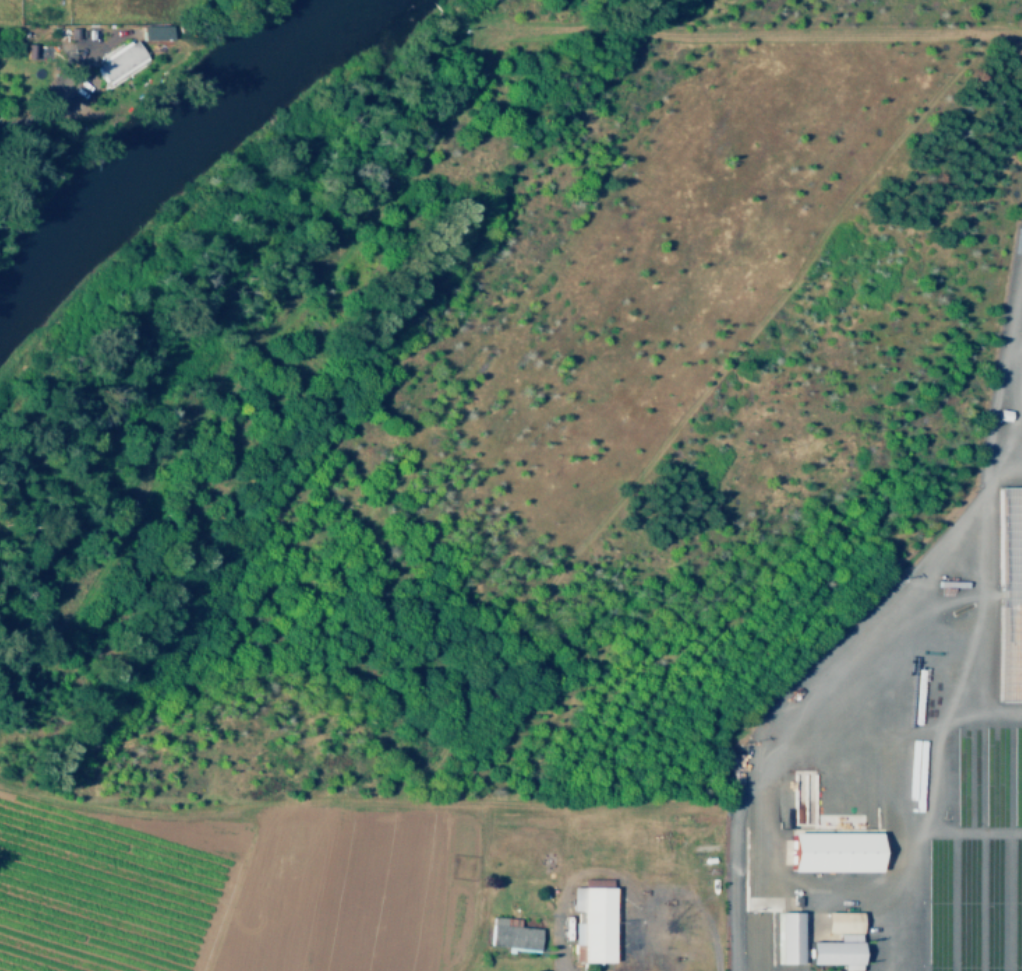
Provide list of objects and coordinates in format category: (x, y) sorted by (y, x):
building: (150, 31)
building: (72, 32)
building: (115, 62)
river: (186, 155)
building: (827, 850)
building: (589, 921)
road: (734, 927)
building: (509, 933)
building: (783, 936)
building: (833, 941)

